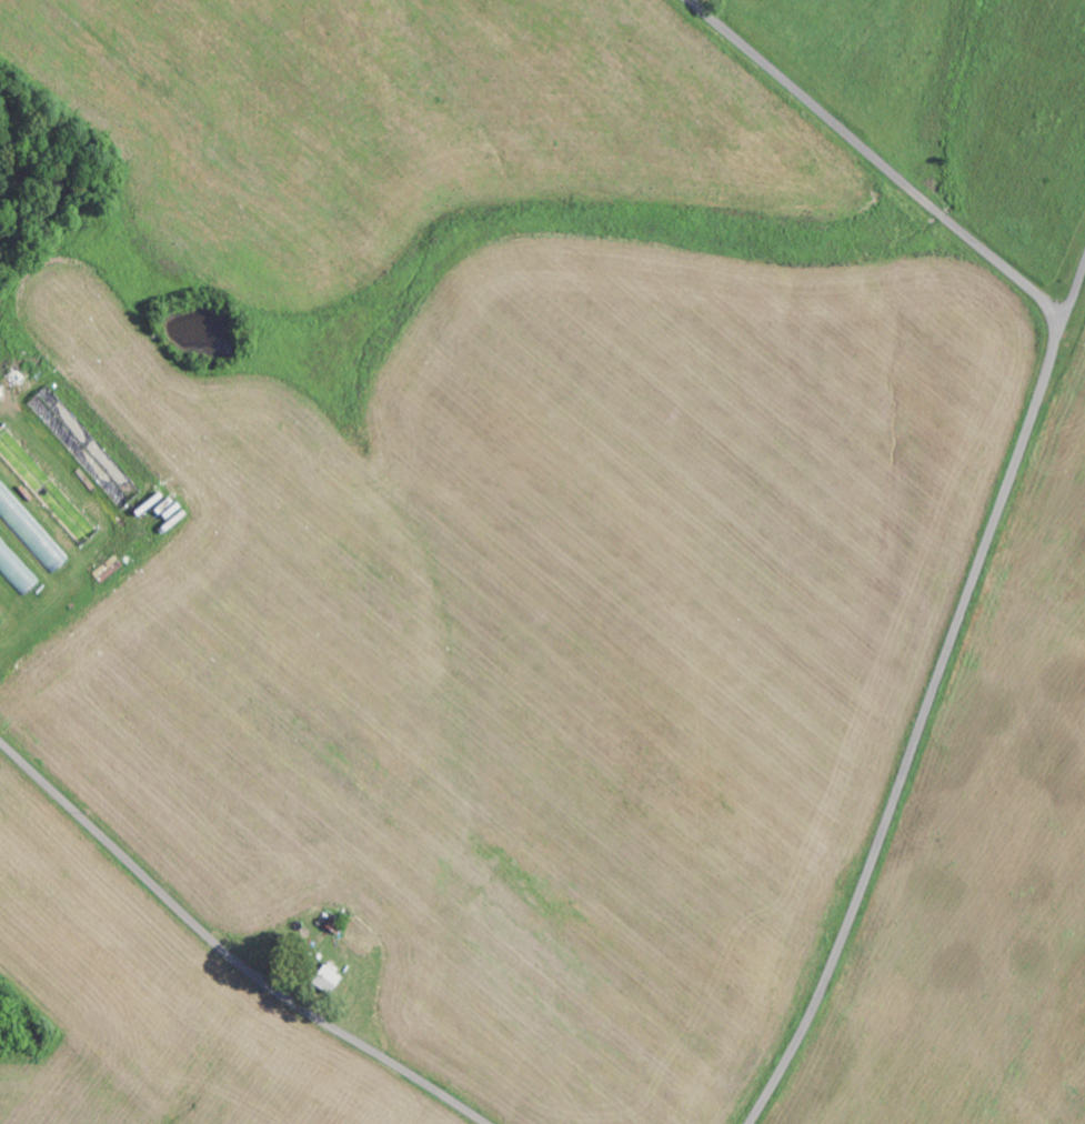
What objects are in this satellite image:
road: (1069, 264)
road: (1002, 500)
building: (30, 530)
building: (16, 569)
road: (228, 951)
building: (328, 975)

